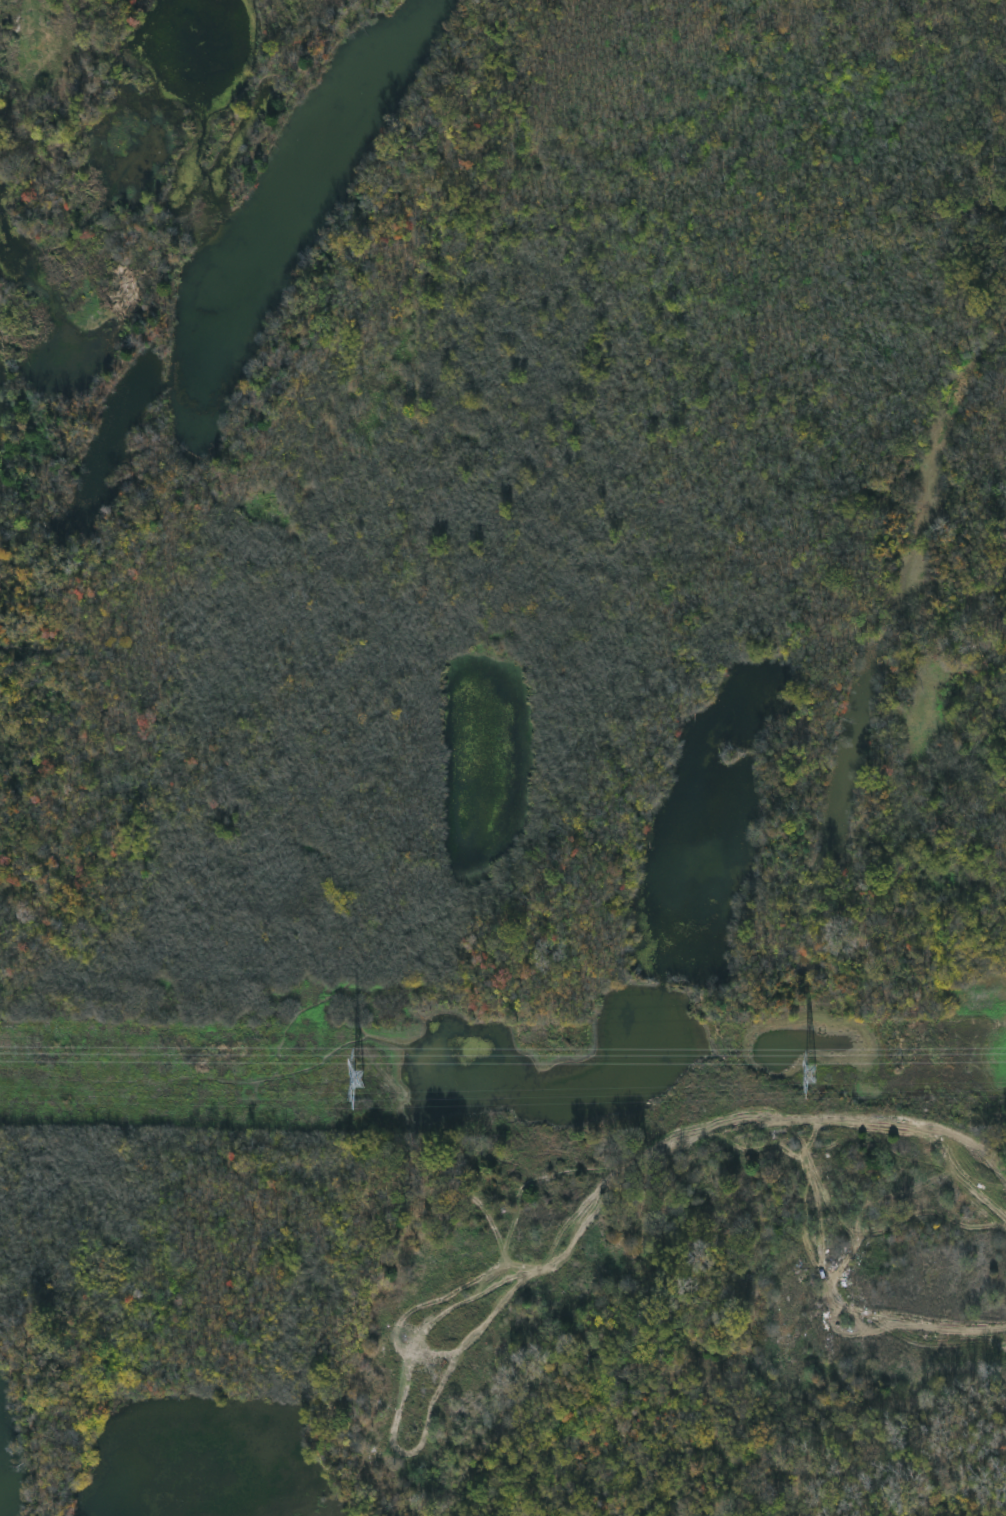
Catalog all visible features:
power tower: (813, 1075)
power tower: (360, 1080)

